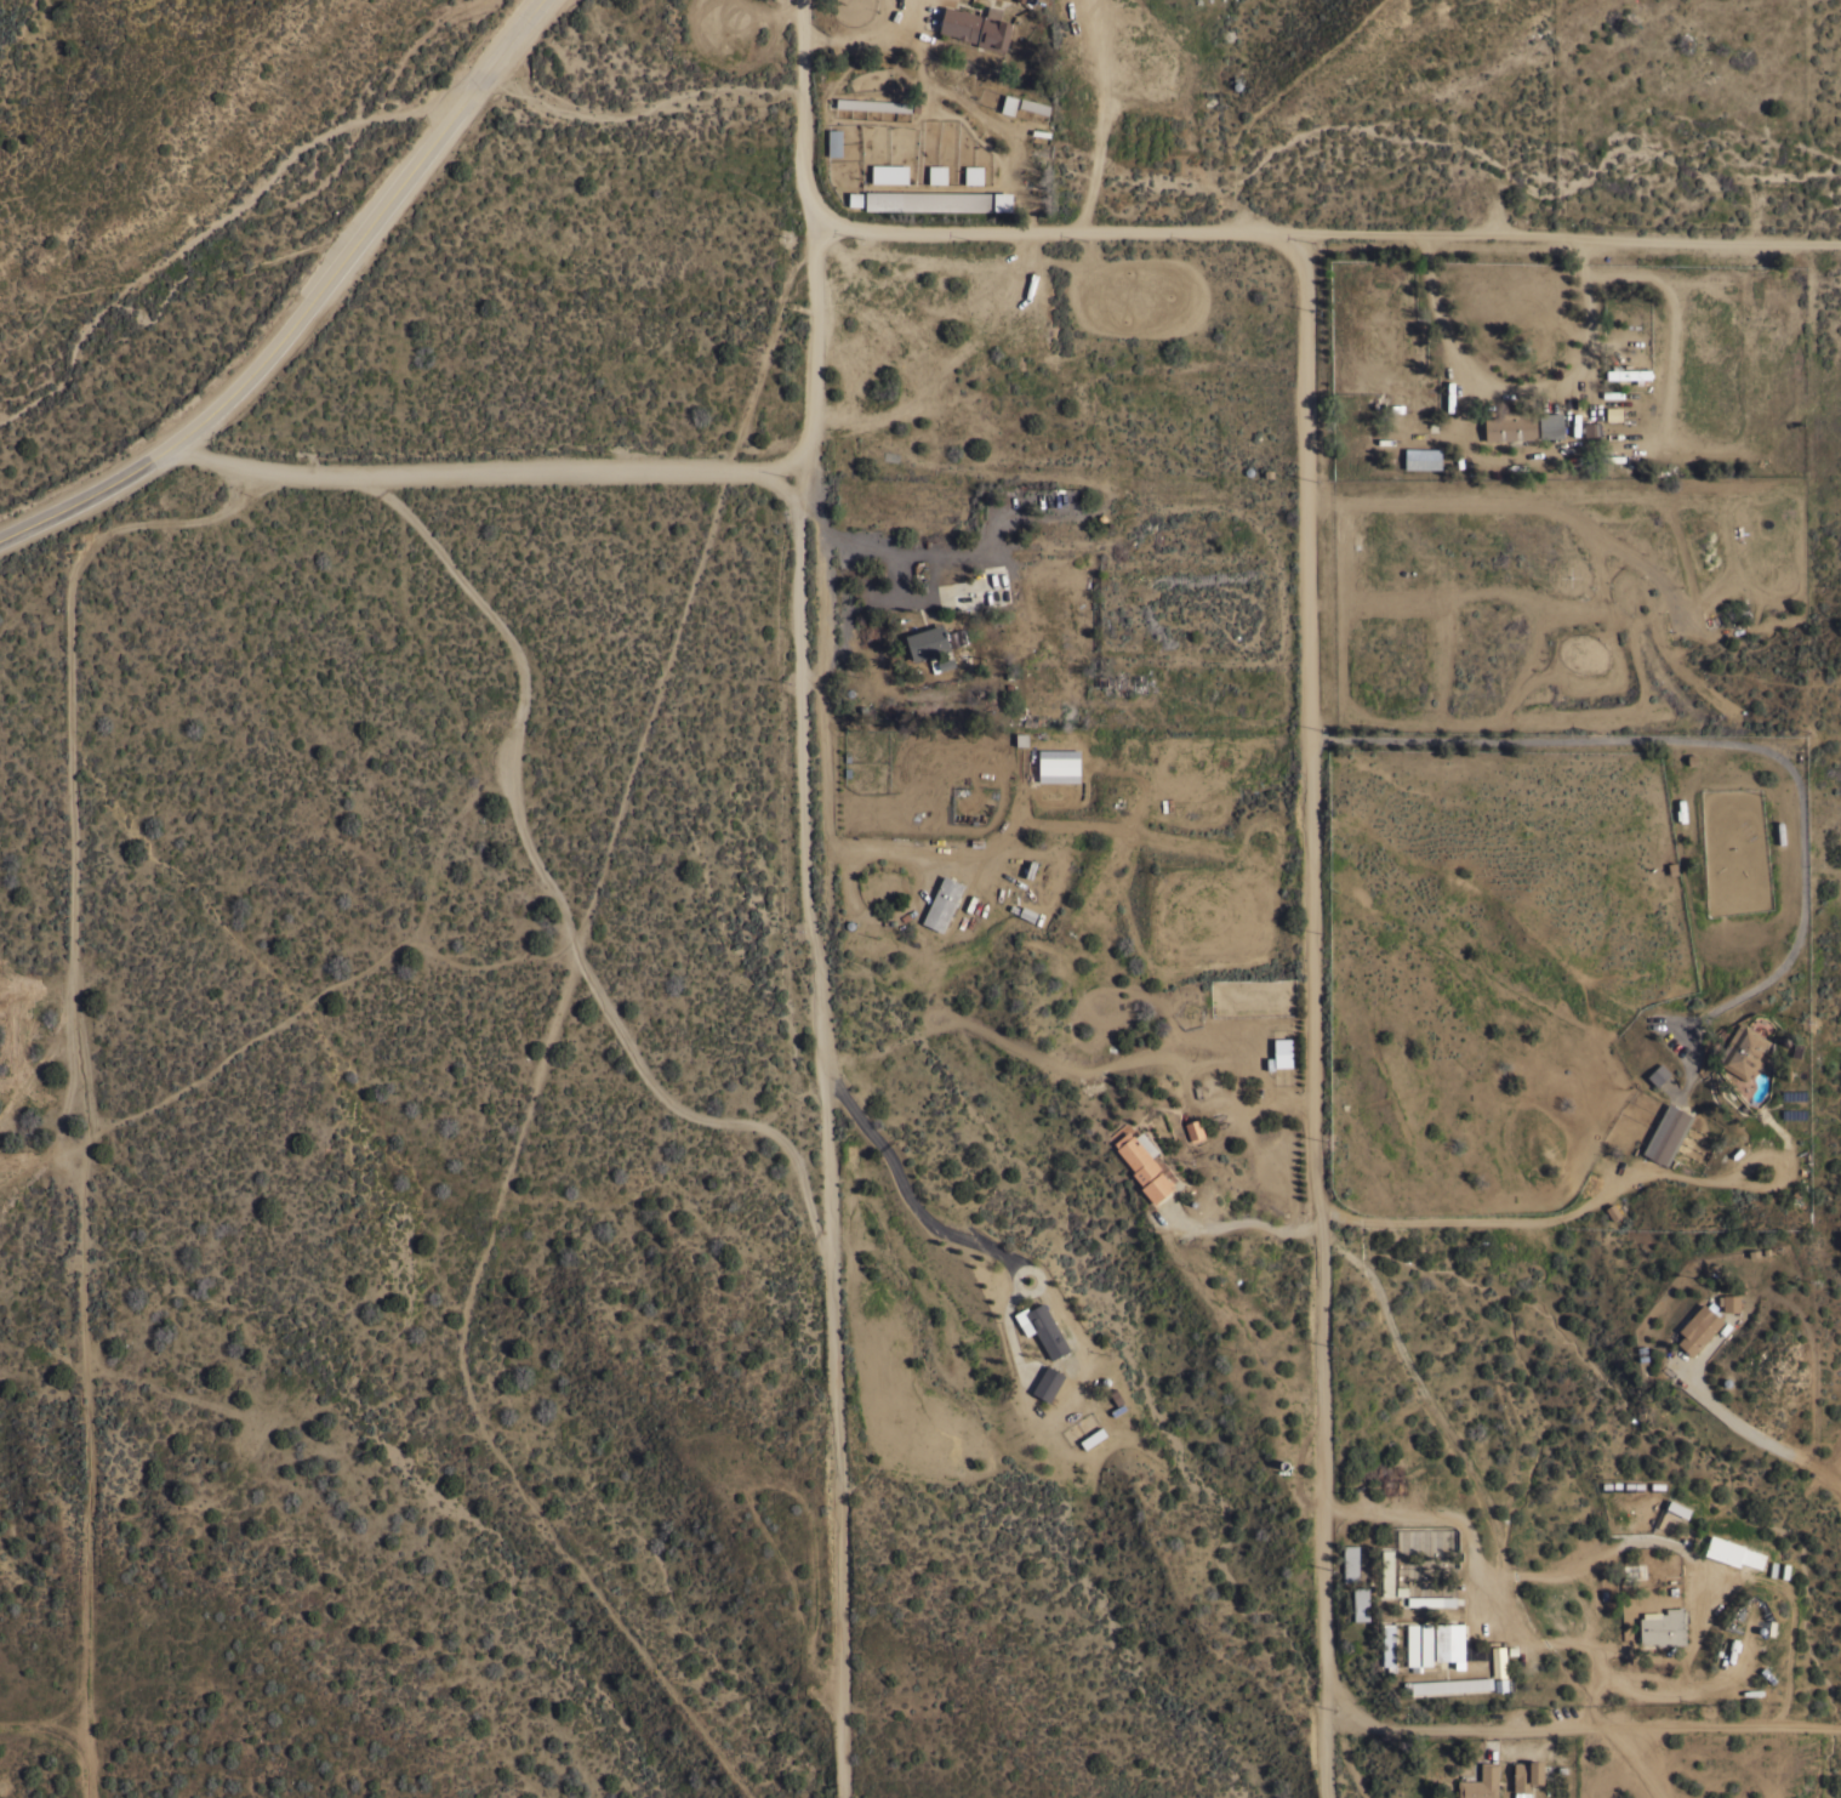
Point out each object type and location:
building: (976, 27)
road: (862, 34)
building: (1008, 104)
building: (873, 106)
building: (1033, 107)
building: (956, 142)
building: (834, 143)
building: (884, 173)
building: (969, 173)
building: (850, 199)
building: (928, 200)
building: (1002, 201)
road: (817, 234)
road: (1329, 234)
road: (344, 258)
building: (1626, 372)
road: (1518, 389)
building: (1609, 414)
building: (1550, 423)
building: (1511, 425)
building: (1591, 427)
building: (1423, 457)
road: (492, 470)
road: (55, 512)
road: (889, 551)
building: (979, 591)
building: (930, 644)
road: (800, 721)
road: (826, 721)
road: (1716, 745)
building: (1059, 764)
building: (941, 903)
road: (1316, 1015)
building: (1743, 1051)
building: (1282, 1052)
building: (1658, 1072)
building: (1193, 1130)
building: (1666, 1133)
building: (1144, 1166)
road: (905, 1195)
road: (1239, 1221)
road: (1480, 1223)
building: (1731, 1302)
building: (1697, 1327)
building: (1045, 1330)
building: (1047, 1382)
road: (836, 1383)
road: (1438, 1418)
road: (1752, 1436)
building: (1732, 1552)
road: (1609, 1553)
building: (1350, 1563)
building: (1386, 1571)
road: (1484, 1592)
building: (1431, 1600)
building: (1360, 1603)
building: (1555, 1609)
building: (1662, 1626)
building: (1448, 1640)
building: (1412, 1644)
building: (1387, 1646)
building: (1478, 1649)
building: (1498, 1661)
building: (1448, 1684)
road: (1577, 1728)
road: (1649, 1763)
building: (1526, 1776)
building: (1480, 1782)

